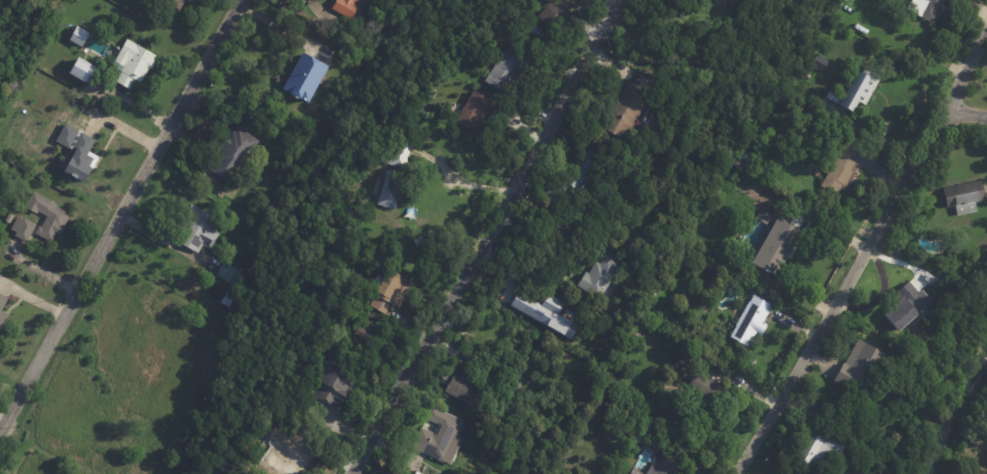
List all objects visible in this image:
building: (947, 0)
building: (173, 4)
building: (347, 7)
building: (920, 8)
building: (558, 12)
building: (878, 30)
building: (535, 31)
building: (78, 36)
building: (355, 39)
building: (64, 61)
building: (133, 63)
building: (820, 64)
building: (508, 69)
building: (82, 70)
building: (306, 76)
building: (862, 88)
building: (777, 93)
building: (786, 98)
building: (796, 106)
building: (476, 108)
building: (626, 111)
road: (965, 115)
building: (398, 151)
building: (233, 153)
building: (83, 155)
building: (746, 156)
building: (737, 162)
building: (839, 164)
building: (573, 181)
building: (726, 181)
road: (468, 183)
building: (390, 189)
building: (958, 196)
road: (119, 214)
building: (47, 216)
building: (9, 218)
building: (23, 228)
building: (196, 229)
road: (486, 236)
building: (238, 238)
building: (779, 247)
road: (863, 254)
building: (230, 275)
building: (600, 278)
building: (933, 280)
building: (659, 287)
building: (391, 292)
building: (907, 307)
building: (543, 312)
building: (2, 313)
building: (752, 321)
building: (318, 323)
building: (637, 333)
building: (357, 335)
building: (862, 366)
building: (462, 386)
building: (334, 388)
building: (635, 392)
building: (507, 398)
building: (703, 403)
building: (675, 423)
building: (243, 433)
building: (440, 437)
building: (288, 441)
building: (820, 450)
building: (271, 459)
building: (226, 464)
building: (659, 464)
road: (3, 470)

